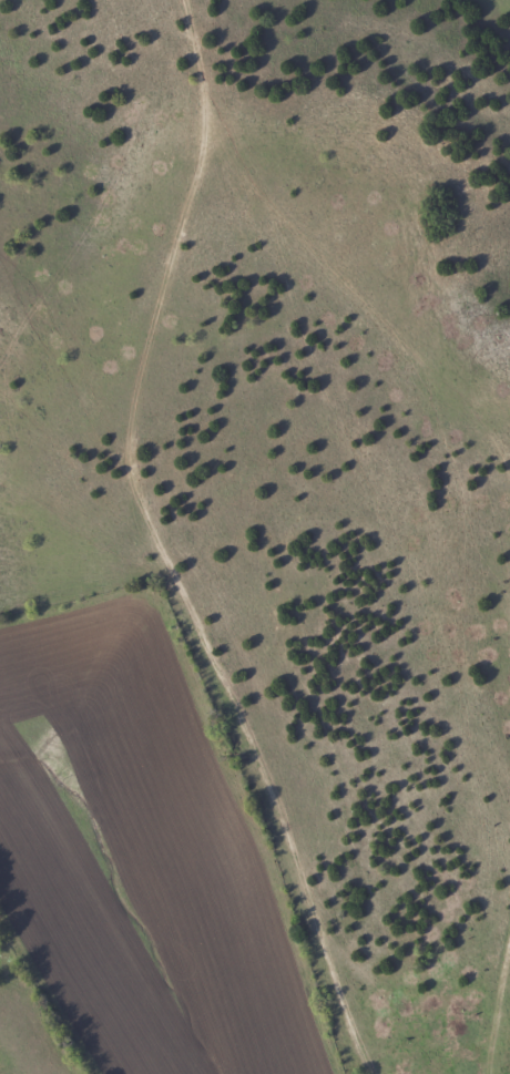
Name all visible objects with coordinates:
road: (480, 968)

